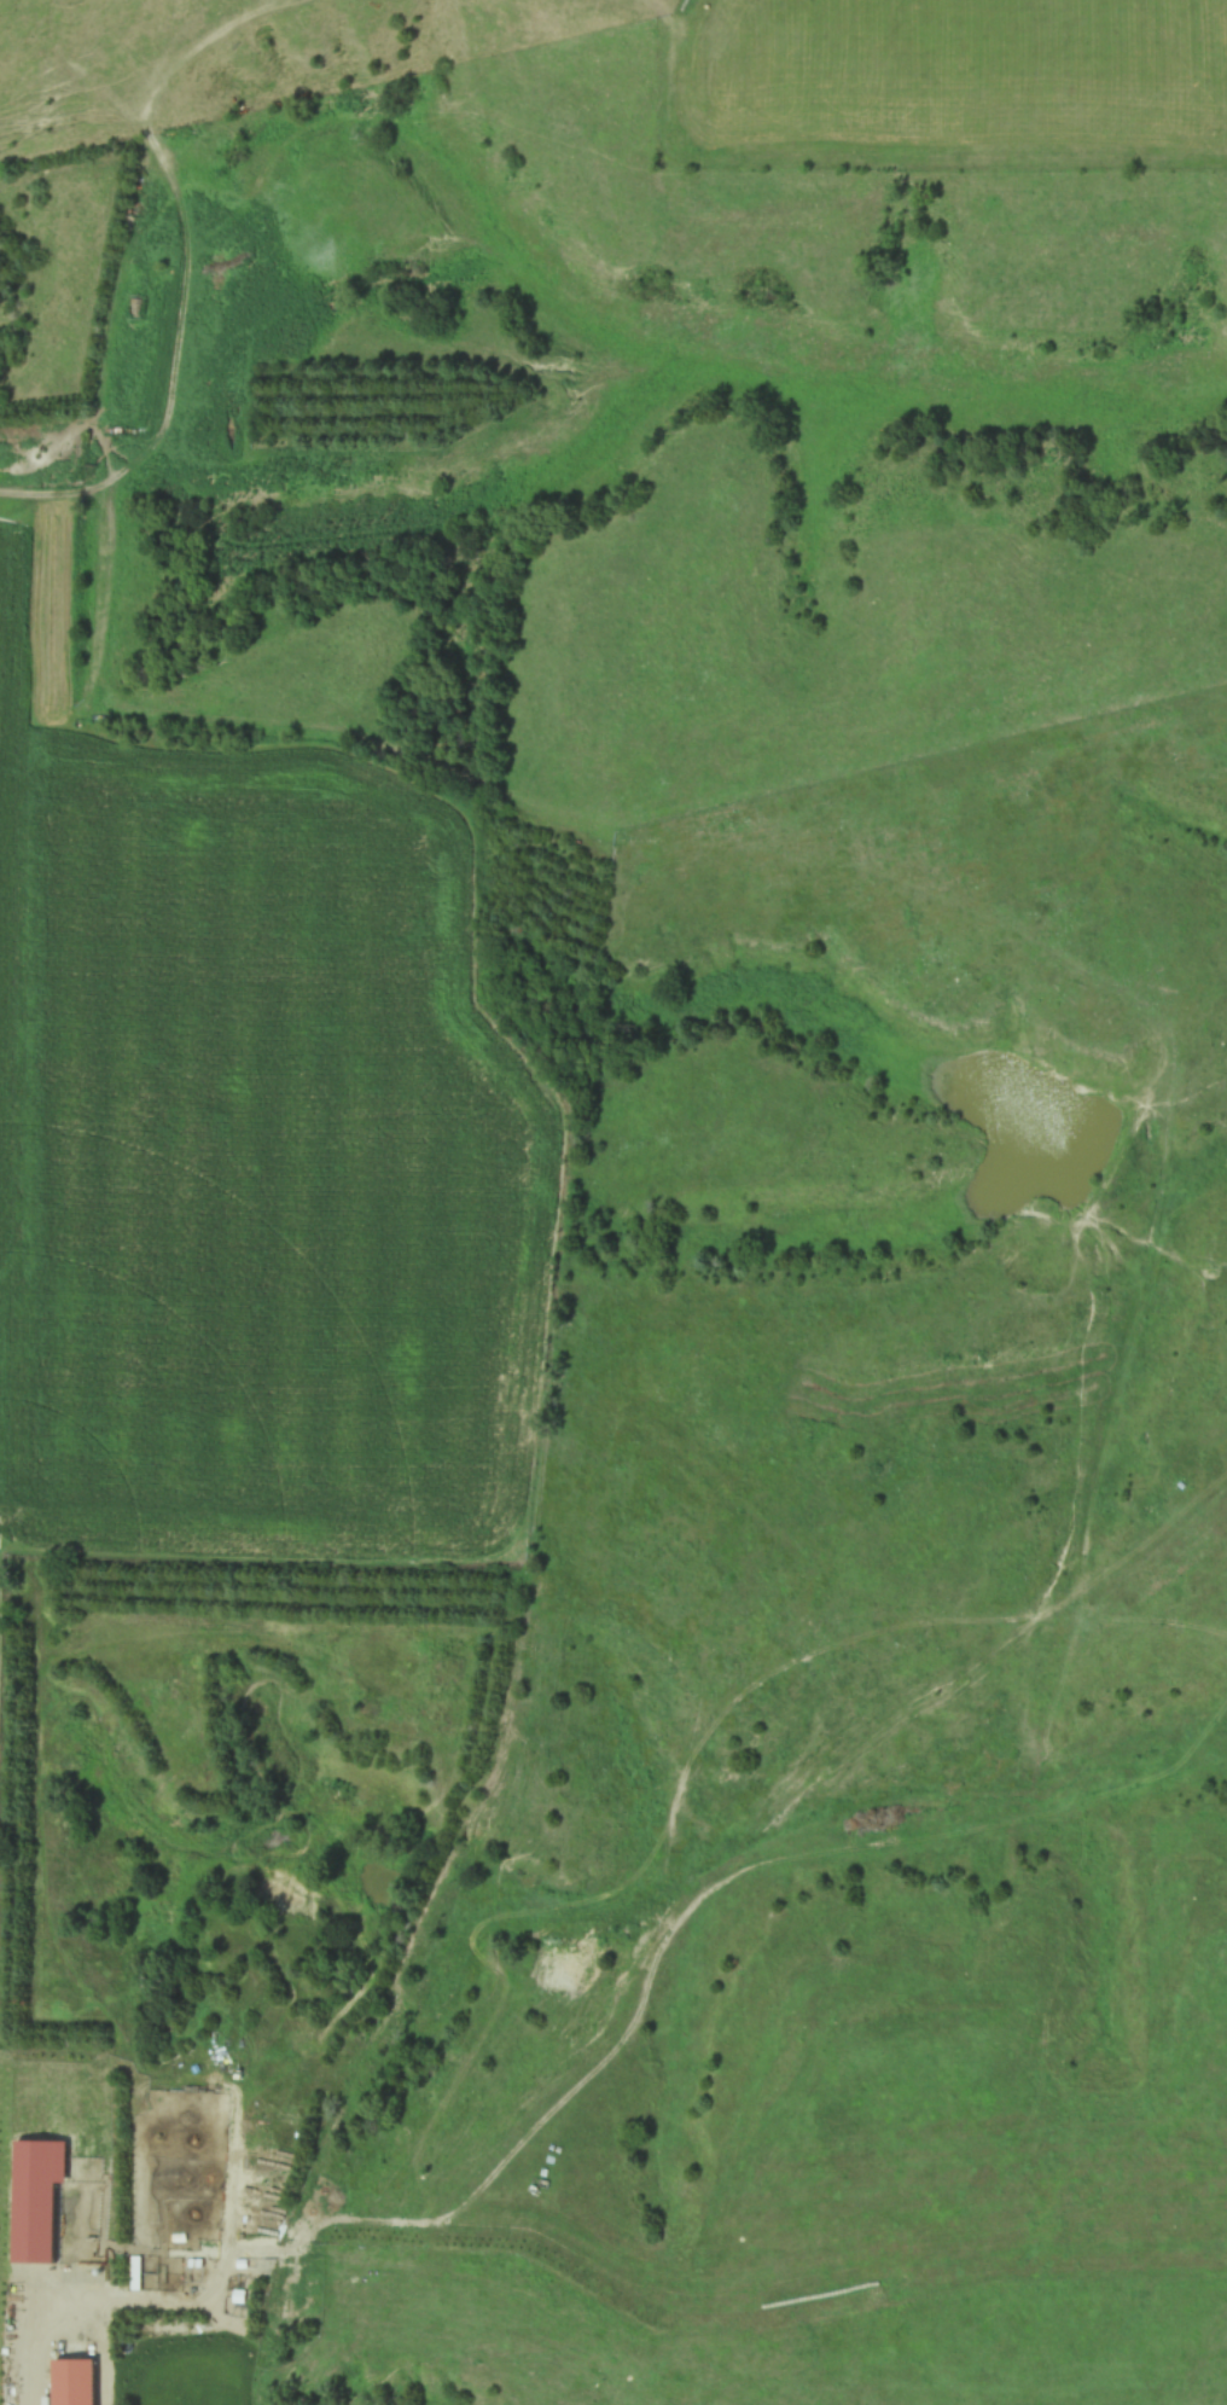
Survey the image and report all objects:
building: (207, 2391)

